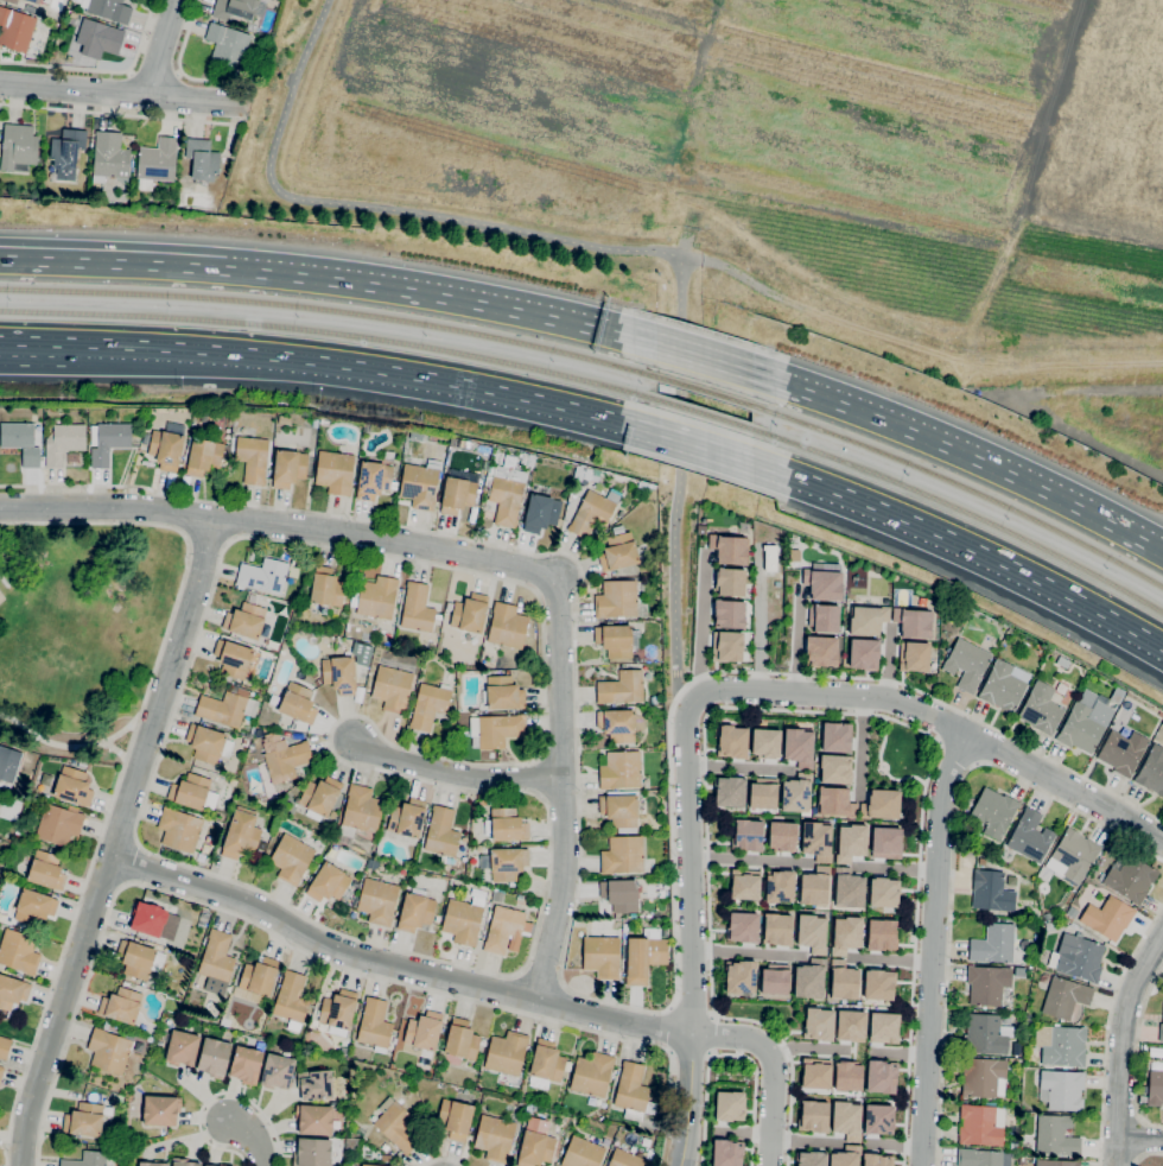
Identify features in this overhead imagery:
building: (12, 1)
building: (33, 1)
building: (235, 8)
building: (108, 9)
building: (15, 28)
building: (97, 39)
building: (228, 45)
road: (161, 46)
building: (53, 53)
road: (102, 69)
road: (154, 71)
road: (180, 71)
road: (120, 93)
road: (116, 113)
road: (233, 126)
building: (18, 147)
building: (66, 152)
building: (110, 156)
building: (202, 159)
park: (761, 160)
building: (157, 163)
road: (598, 248)
road: (112, 264)
road: (726, 267)
road: (441, 297)
railway: (330, 311)
railway: (331, 332)
road: (152, 346)
road: (703, 360)
road: (152, 363)
road: (482, 387)
railway: (703, 391)
railway: (703, 412)
building: (285, 419)
building: (367, 427)
building: (21, 442)
building: (63, 442)
building: (108, 442)
road: (704, 443)
building: (167, 446)
road: (961, 455)
building: (206, 456)
building: (253, 458)
building: (530, 458)
building: (288, 468)
building: (336, 471)
building: (374, 480)
building: (642, 484)
building: (419, 486)
railway: (961, 486)
building: (507, 494)
building: (457, 495)
railway: (960, 509)
building: (541, 512)
building: (591, 513)
road: (962, 541)
building: (730, 546)
building: (618, 551)
building: (794, 555)
building: (771, 556)
road: (485, 559)
building: (263, 575)
building: (731, 582)
building: (826, 582)
building: (326, 588)
building: (377, 597)
building: (616, 600)
building: (417, 609)
building: (470, 613)
building: (730, 613)
building: (657, 616)
building: (826, 616)
road: (758, 617)
building: (869, 617)
building: (244, 620)
building: (920, 620)
road: (704, 623)
building: (508, 626)
park: (82, 632)
building: (615, 639)
road: (799, 639)
building: (731, 646)
building: (822, 651)
building: (864, 652)
building: (362, 653)
building: (233, 658)
building: (916, 658)
road: (890, 661)
building: (1063, 663)
building: (966, 665)
building: (312, 673)
building: (339, 674)
road: (166, 686)
building: (1004, 686)
building: (621, 687)
building: (234, 689)
building: (393, 689)
building: (358, 693)
building: (503, 693)
road: (833, 695)
building: (1118, 696)
building: (653, 701)
building: (298, 703)
building: (428, 705)
building: (225, 708)
building: (1041, 709)
building: (469, 710)
road: (784, 710)
building: (617, 724)
building: (1085, 725)
building: (495, 729)
building: (835, 737)
building: (732, 740)
building: (246, 741)
building: (208, 743)
building: (765, 743)
road: (59, 744)
building: (801, 746)
road: (865, 746)
road: (402, 747)
building: (1121, 752)
building: (284, 756)
park: (898, 756)
road: (122, 760)
road: (737, 766)
building: (8, 767)
building: (621, 769)
building: (835, 769)
building: (1152, 771)
road: (456, 774)
building: (72, 786)
road: (1066, 786)
building: (20, 788)
building: (193, 792)
building: (731, 792)
building: (764, 793)
building: (0, 796)
building: (797, 796)
building: (319, 797)
building: (832, 801)
building: (883, 806)
building: (619, 811)
building: (994, 811)
building: (358, 812)
building: (407, 817)
building: (58, 824)
building: (507, 825)
building: (179, 829)
building: (18, 831)
building: (441, 832)
building: (241, 834)
building: (746, 836)
building: (1030, 836)
building: (784, 837)
building: (820, 842)
building: (852, 842)
building: (886, 842)
building: (262, 845)
building: (622, 855)
road: (953, 856)
building: (1073, 856)
building: (291, 858)
road: (748, 860)
building: (981, 861)
road: (134, 863)
building: (504, 863)
road: (689, 866)
road: (896, 868)
building: (45, 870)
building: (1131, 879)
building: (329, 883)
building: (355, 885)
building: (746, 885)
building: (781, 885)
building: (501, 886)
building: (510, 886)
building: (816, 887)
building: (847, 887)
building: (991, 891)
building: (886, 893)
building: (619, 894)
building: (497, 896)
building: (377, 900)
building: (34, 906)
building: (415, 912)
building: (1072, 912)
building: (1047, 915)
building: (1108, 918)
building: (148, 919)
building: (463, 920)
building: (1049, 925)
building: (1073, 925)
building: (743, 926)
building: (777, 927)
building: (506, 930)
building: (624, 931)
building: (663, 932)
building: (849, 932)
building: (881, 933)
building: (814, 934)
building: (993, 944)
road: (932, 946)
building: (18, 951)
road: (305, 951)
road: (746, 953)
building: (644, 955)
building: (602, 956)
road: (563, 957)
building: (1078, 957)
building: (139, 958)
road: (890, 961)
building: (217, 962)
road: (394, 964)
building: (1021, 969)
building: (1029, 970)
building: (260, 975)
road: (540, 978)
building: (741, 978)
building: (843, 980)
building: (775, 981)
building: (813, 981)
building: (881, 982)
building: (989, 983)
building: (12, 991)
building: (1065, 997)
building: (291, 1000)
building: (121, 1006)
road: (61, 1009)
building: (338, 1012)
park: (767, 1015)
building: (106, 1025)
building: (375, 1025)
building: (819, 1025)
building: (853, 1026)
road: (669, 1027)
building: (885, 1027)
road: (1106, 1029)
building: (1161, 1032)
building: (986, 1033)
building: (424, 1034)
building: (462, 1040)
building: (1061, 1045)
building: (4, 1047)
road: (1118, 1047)
building: (182, 1048)
building: (1016, 1048)
building: (109, 1050)
road: (809, 1050)
building: (343, 1051)
road: (852, 1052)
building: (506, 1053)
road: (730, 1053)
road: (897, 1053)
road: (1137, 1054)
building: (214, 1058)
building: (246, 1064)
building: (546, 1064)
road: (774, 1066)
building: (1, 1071)
building: (277, 1071)
building: (815, 1072)
building: (592, 1073)
building: (847, 1076)
building: (881, 1076)
building: (983, 1077)
building: (314, 1085)
building: (1155, 1088)
building: (1061, 1090)
building: (631, 1091)
road: (221, 1094)
building: (120, 1098)
road: (689, 1098)
building: (591, 1101)
building: (727, 1105)
building: (160, 1110)
building: (814, 1116)
building: (455, 1119)
building: (846, 1119)
building: (84, 1120)
building: (313, 1120)
building: (882, 1120)
building: (980, 1124)
building: (396, 1126)
road: (746, 1130)
building: (1056, 1136)
road: (249, 1138)
building: (495, 1138)
road: (1138, 1139)
road: (805, 1141)
building: (352, 1143)
road: (895, 1146)
building: (1013, 1146)
building: (385, 1147)
building: (534, 1148)
building: (312, 1153)
building: (581, 1153)
building: (725, 1154)
road: (1146, 1155)
building: (845, 1158)
building: (978, 1158)
building: (91, 1159)
road: (444, 1159)
building: (624, 1159)
building: (811, 1159)
building: (876, 1161)
building: (1022, 1161)
building: (183, 1162)
building: (1056, 1162)
building: (154, 1164)
building: (210, 1165)
building: (225, 1165)
building: (370, 1165)

